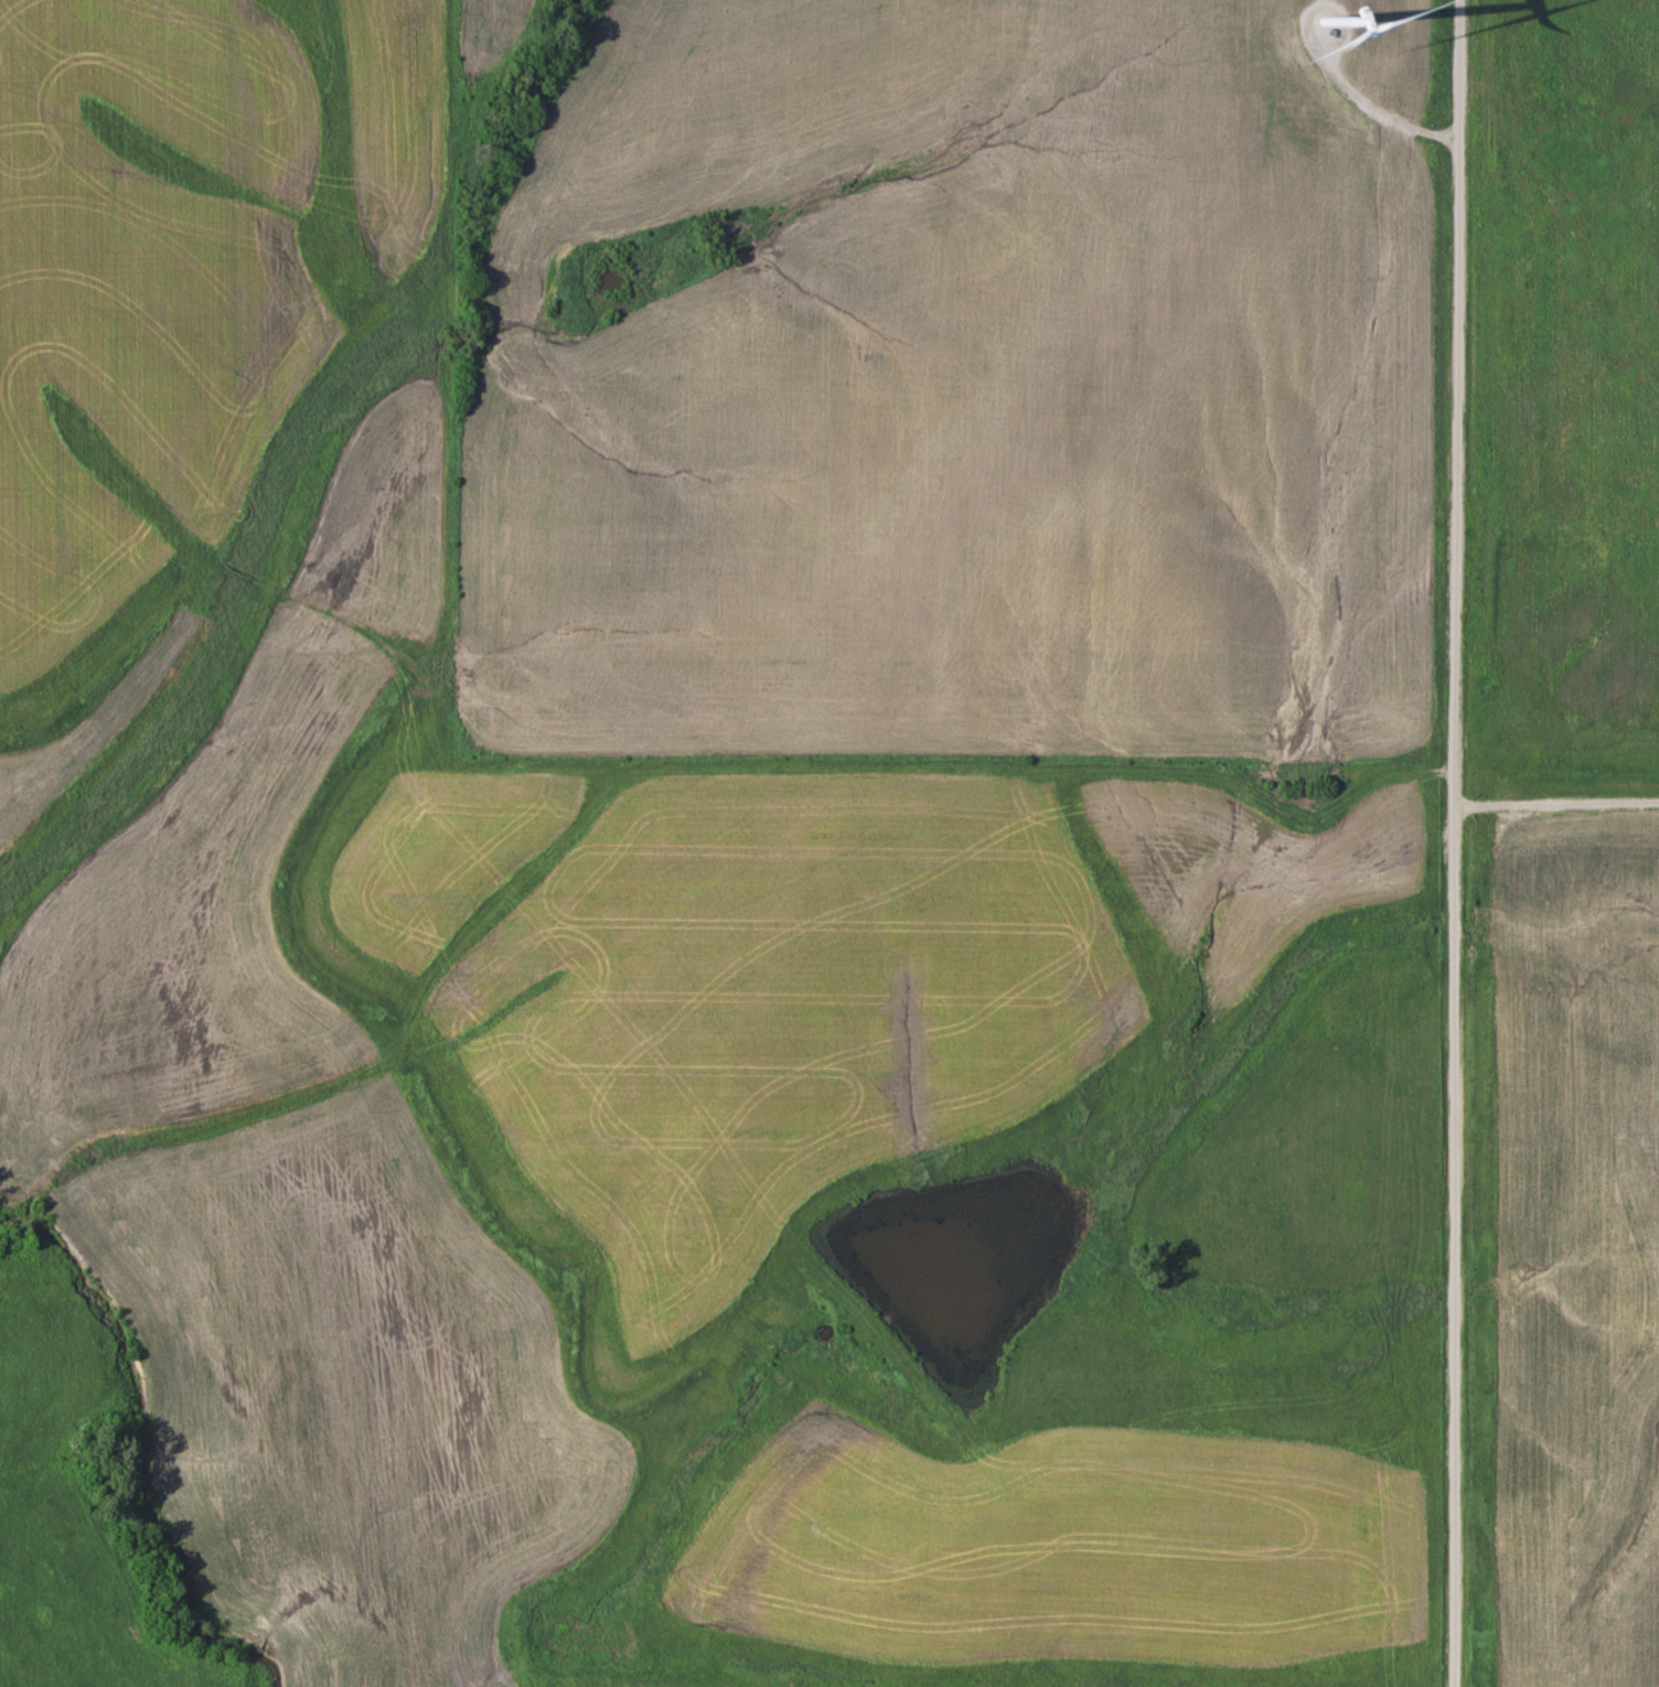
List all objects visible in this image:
wind turbine: (1319, 23)
road: (1371, 108)
road: (1554, 804)
road: (1451, 842)

